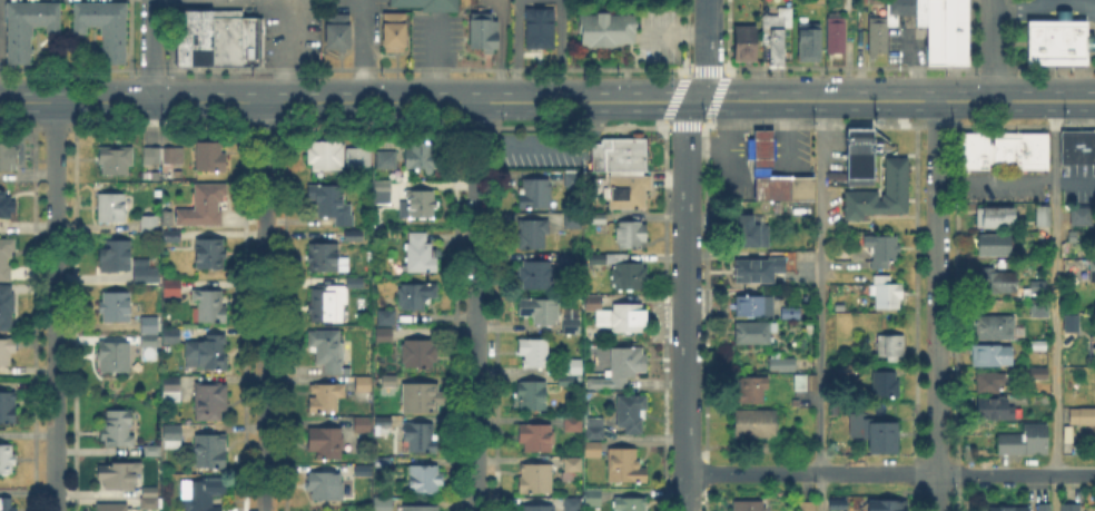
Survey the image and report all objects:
building: (431, 2)
road: (1043, 2)
building: (540, 26)
building: (29, 27)
building: (105, 27)
building: (394, 28)
building: (939, 28)
building: (609, 30)
building: (338, 31)
building: (485, 31)
building: (837, 33)
building: (879, 35)
building: (220, 36)
building: (773, 37)
building: (1058, 40)
building: (810, 41)
building: (744, 43)
road: (150, 50)
road: (286, 50)
road: (993, 50)
road: (361, 51)
road: (894, 100)
traffic signals: (694, 101)
road: (346, 102)
building: (1078, 147)
building: (1006, 150)
building: (8, 155)
building: (152, 155)
building: (361, 156)
building: (172, 157)
building: (210, 157)
building: (326, 157)
building: (422, 157)
building: (860, 157)
building: (388, 158)
building: (116, 159)
building: (766, 163)
building: (624, 170)
building: (897, 175)
building: (573, 179)
road: (995, 181)
building: (383, 191)
building: (535, 193)
building: (332, 202)
building: (420, 204)
building: (7, 206)
building: (112, 207)
building: (204, 207)
building: (1083, 215)
building: (995, 216)
building: (1044, 216)
building: (573, 219)
building: (599, 220)
building: (150, 223)
building: (751, 232)
building: (533, 234)
building: (172, 235)
building: (354, 235)
building: (631, 235)
building: (996, 243)
building: (882, 248)
building: (211, 252)
building: (421, 253)
road: (685, 253)
building: (7, 255)
building: (116, 255)
building: (327, 257)
building: (571, 258)
building: (602, 259)
building: (1074, 269)
building: (1094, 269)
building: (758, 271)
building: (146, 274)
building: (630, 275)
building: (535, 277)
building: (999, 281)
building: (356, 282)
road: (820, 285)
building: (172, 286)
building: (1039, 286)
building: (887, 292)
building: (416, 296)
building: (323, 304)
building: (754, 305)
building: (6, 306)
road: (55, 306)
building: (208, 306)
road: (265, 306)
road: (476, 306)
road: (936, 306)
road: (1055, 306)
building: (115, 307)
building: (1040, 308)
building: (540, 311)
building: (792, 312)
building: (619, 315)
building: (387, 316)
building: (1073, 322)
building: (572, 325)
building: (994, 327)
building: (151, 330)
building: (754, 332)
building: (171, 335)
building: (384, 335)
building: (891, 346)
building: (1037, 346)
building: (1094, 348)
building: (327, 350)
building: (208, 352)
building: (4, 353)
building: (418, 353)
building: (536, 353)
building: (116, 356)
building: (992, 356)
building: (782, 364)
building: (574, 366)
building: (620, 368)
building: (1038, 373)
building: (848, 374)
building: (568, 382)
building: (806, 382)
building: (992, 382)
building: (886, 383)
building: (364, 384)
building: (389, 384)
building: (1094, 384)
building: (172, 386)
building: (751, 389)
building: (532, 395)
building: (326, 397)
building: (422, 397)
building: (211, 400)
building: (8, 406)
building: (995, 409)
building: (631, 413)
building: (1083, 417)
building: (364, 423)
building: (574, 423)
building: (384, 425)
building: (759, 426)
building: (118, 428)
building: (595, 428)
building: (876, 432)
building: (172, 435)
building: (421, 436)
building: (536, 436)
building: (1026, 440)
building: (327, 441)
building: (593, 449)
building: (155, 450)
building: (211, 451)
building: (7, 460)
building: (384, 461)
building: (574, 464)
building: (625, 464)
road: (890, 469)
building: (364, 470)
building: (120, 474)
building: (536, 476)
building: (422, 479)
building: (326, 485)
road: (820, 490)
building: (205, 493)
building: (151, 499)
building: (583, 501)
building: (838, 503)
building: (7, 504)
building: (383, 504)
building: (631, 504)
building: (748, 505)
building: (886, 505)
building: (112, 507)
building: (537, 507)
building: (807, 507)
building: (1071, 507)
building: (418, 508)
building: (1008, 508)
building: (1045, 508)

